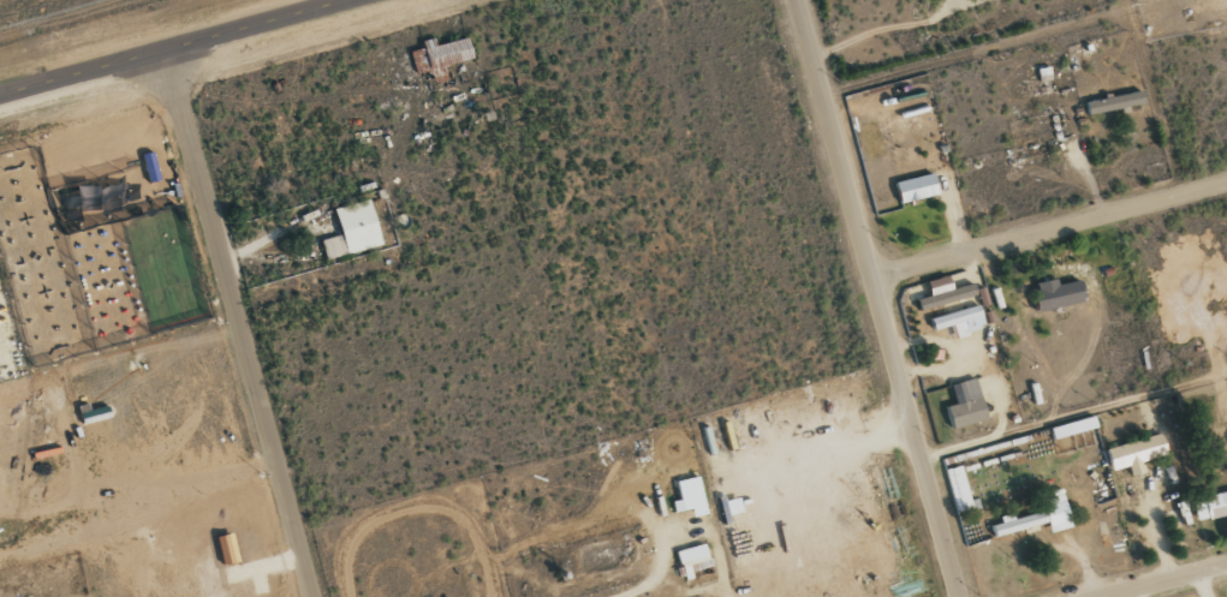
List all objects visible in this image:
road: (180, 46)
building: (1112, 102)
building: (913, 187)
road: (1047, 229)
building: (351, 231)
building: (941, 293)
building: (1053, 294)
road: (872, 299)
building: (958, 321)
road: (239, 323)
building: (963, 404)
building: (1070, 426)
building: (717, 437)
building: (1133, 453)
building: (958, 489)
building: (687, 496)
building: (729, 506)
building: (1209, 506)
building: (1035, 518)
building: (691, 559)
road: (1162, 579)

